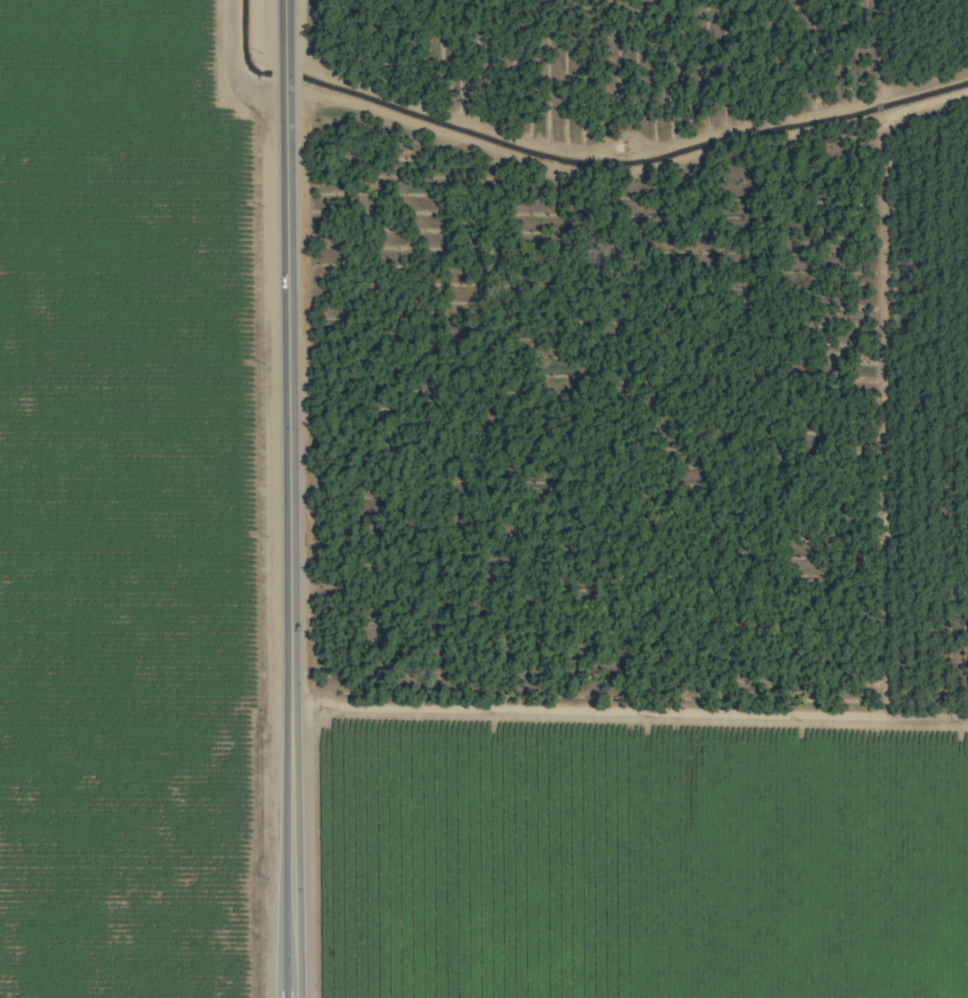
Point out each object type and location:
road: (290, 498)
crop: (484, 499)
road: (629, 714)

